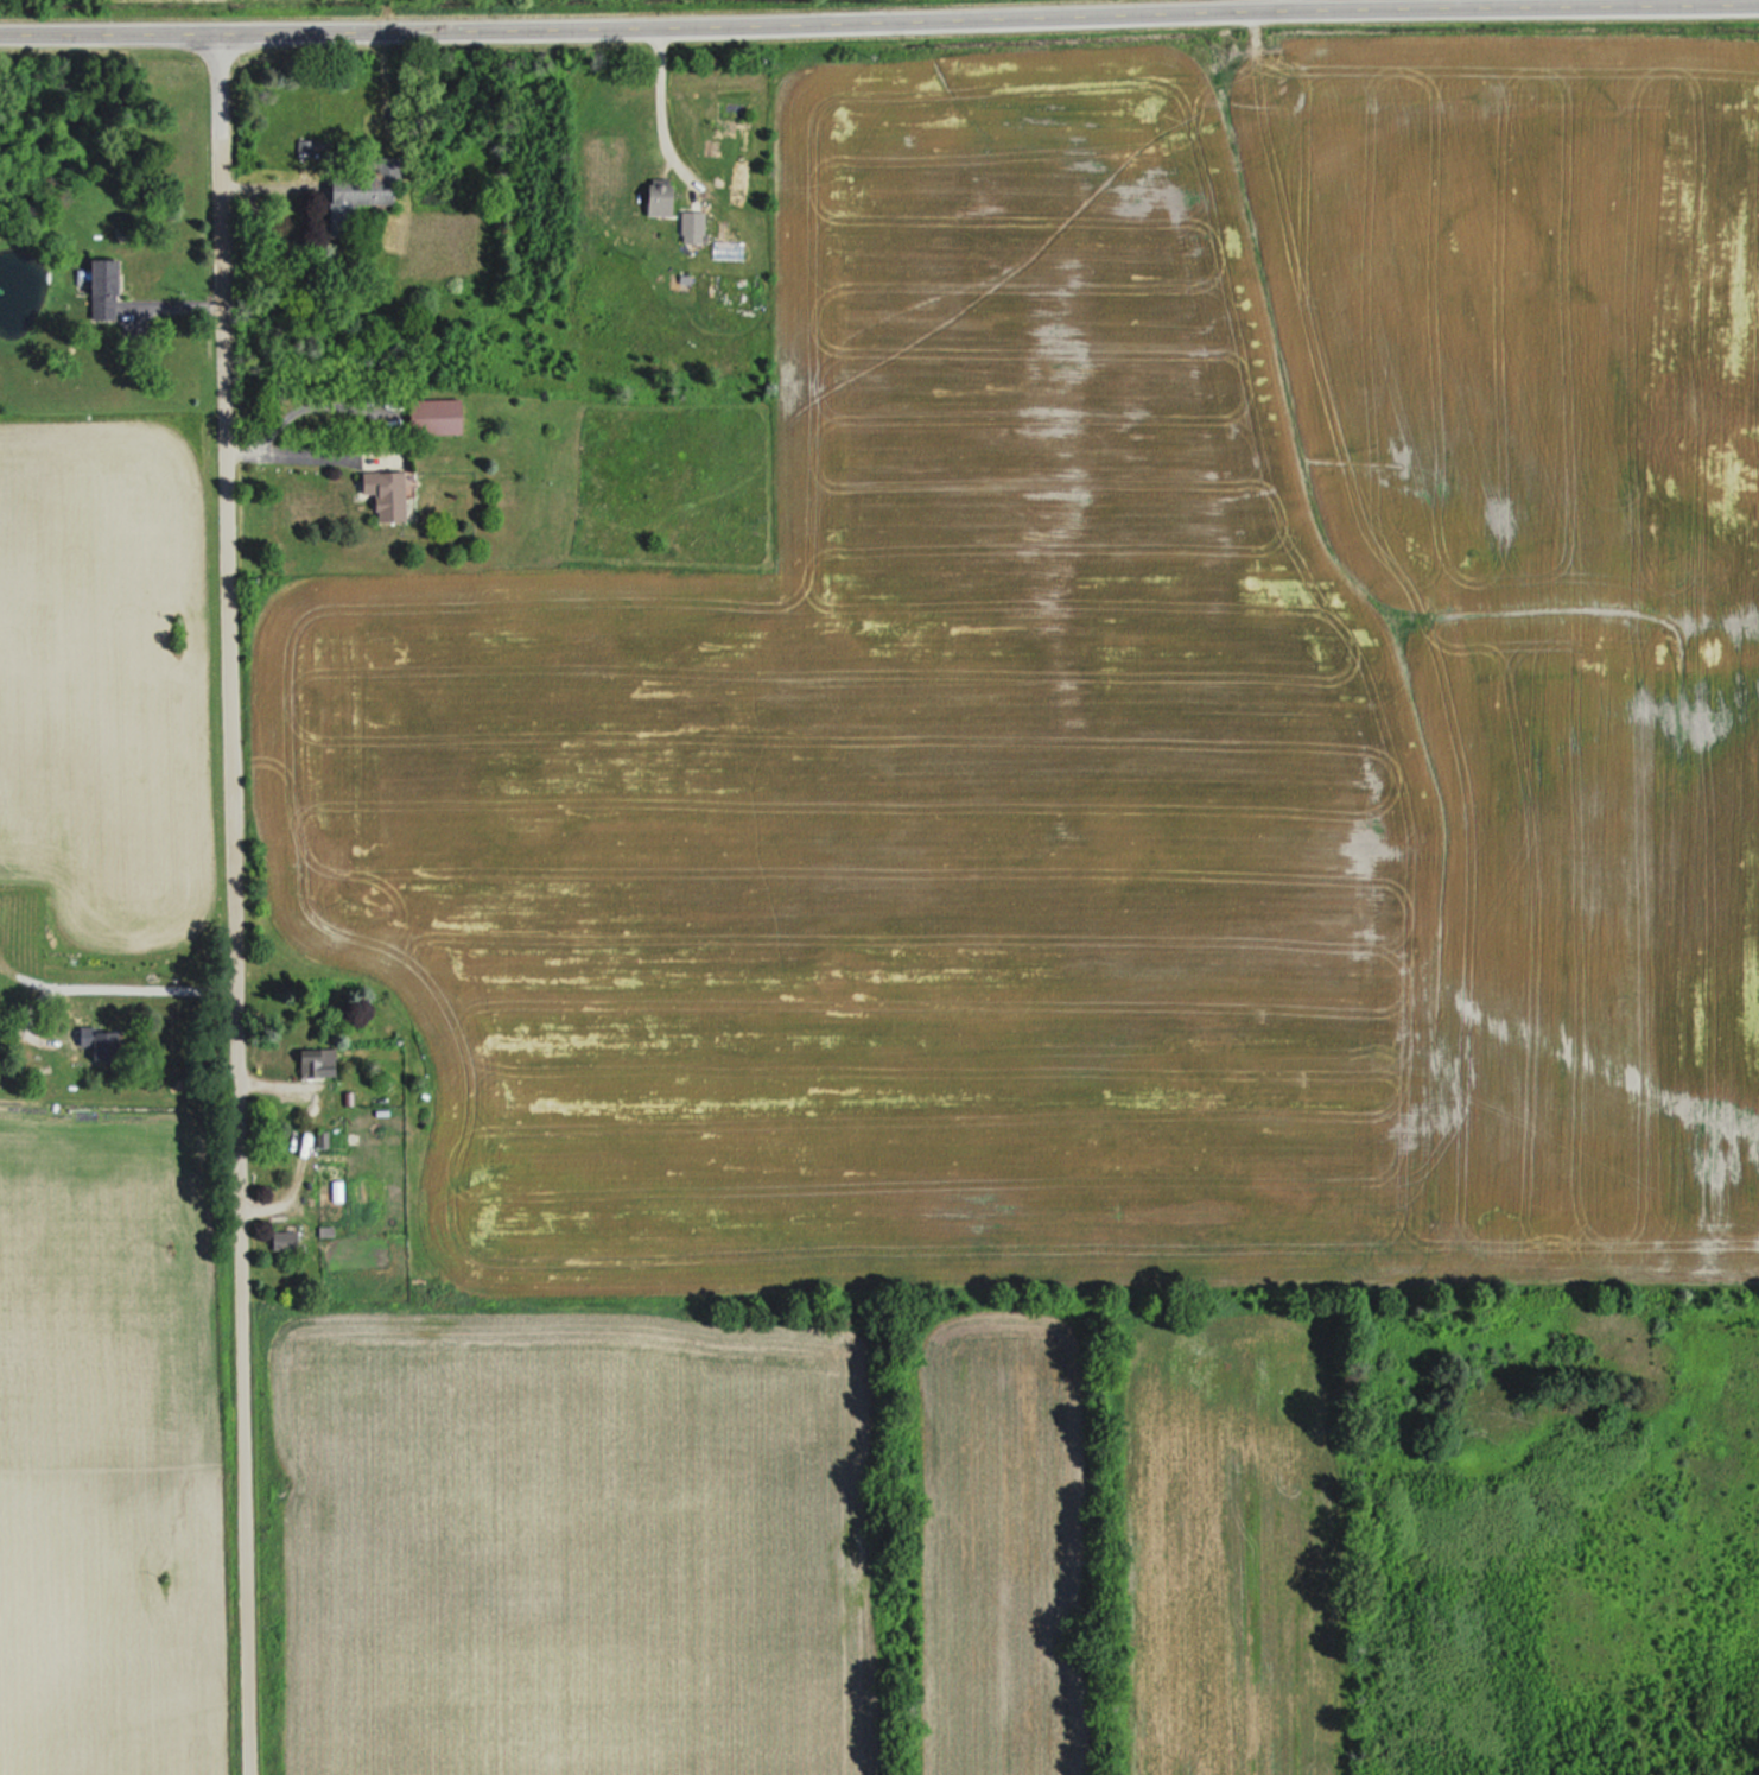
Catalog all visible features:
road: (1287, 5)
road: (878, 14)
road: (659, 106)
building: (361, 194)
building: (438, 416)
road: (288, 452)
building: (389, 493)
road: (231, 904)
road: (141, 981)
building: (319, 1063)

